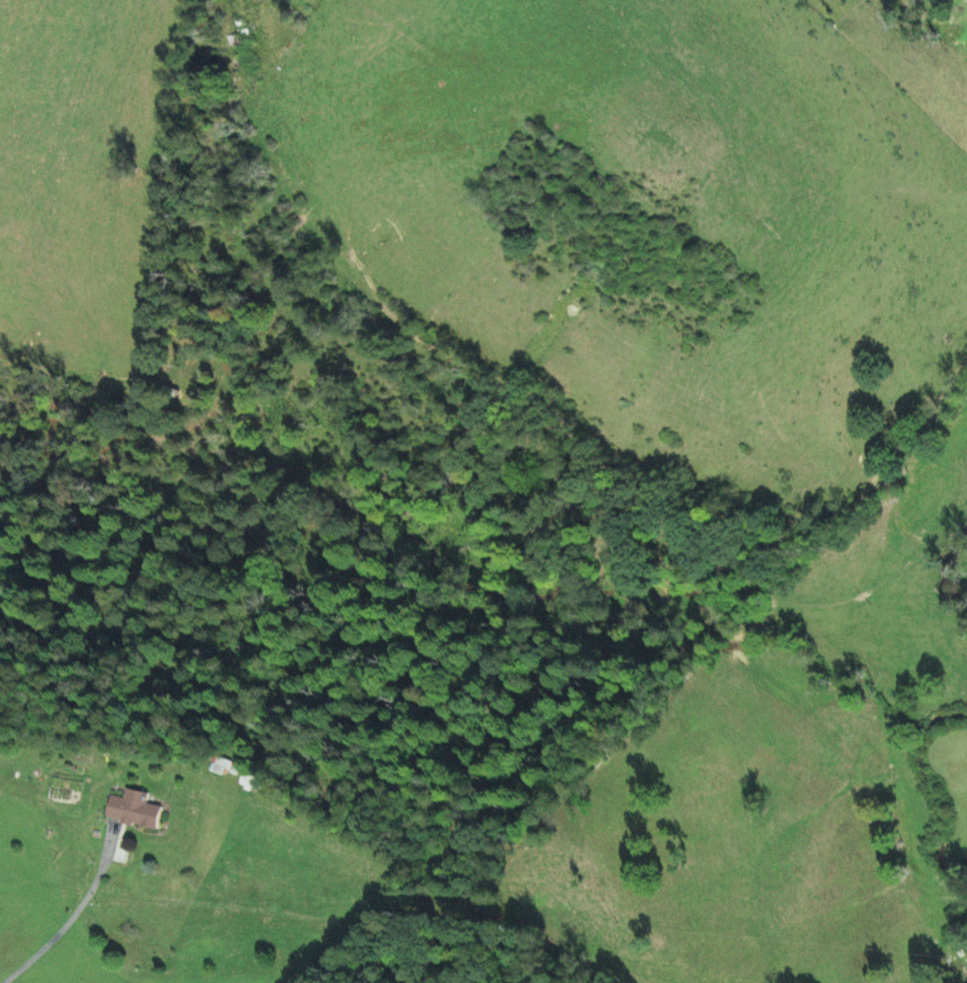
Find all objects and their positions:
building: (243, 49)
building: (223, 764)
building: (134, 811)

